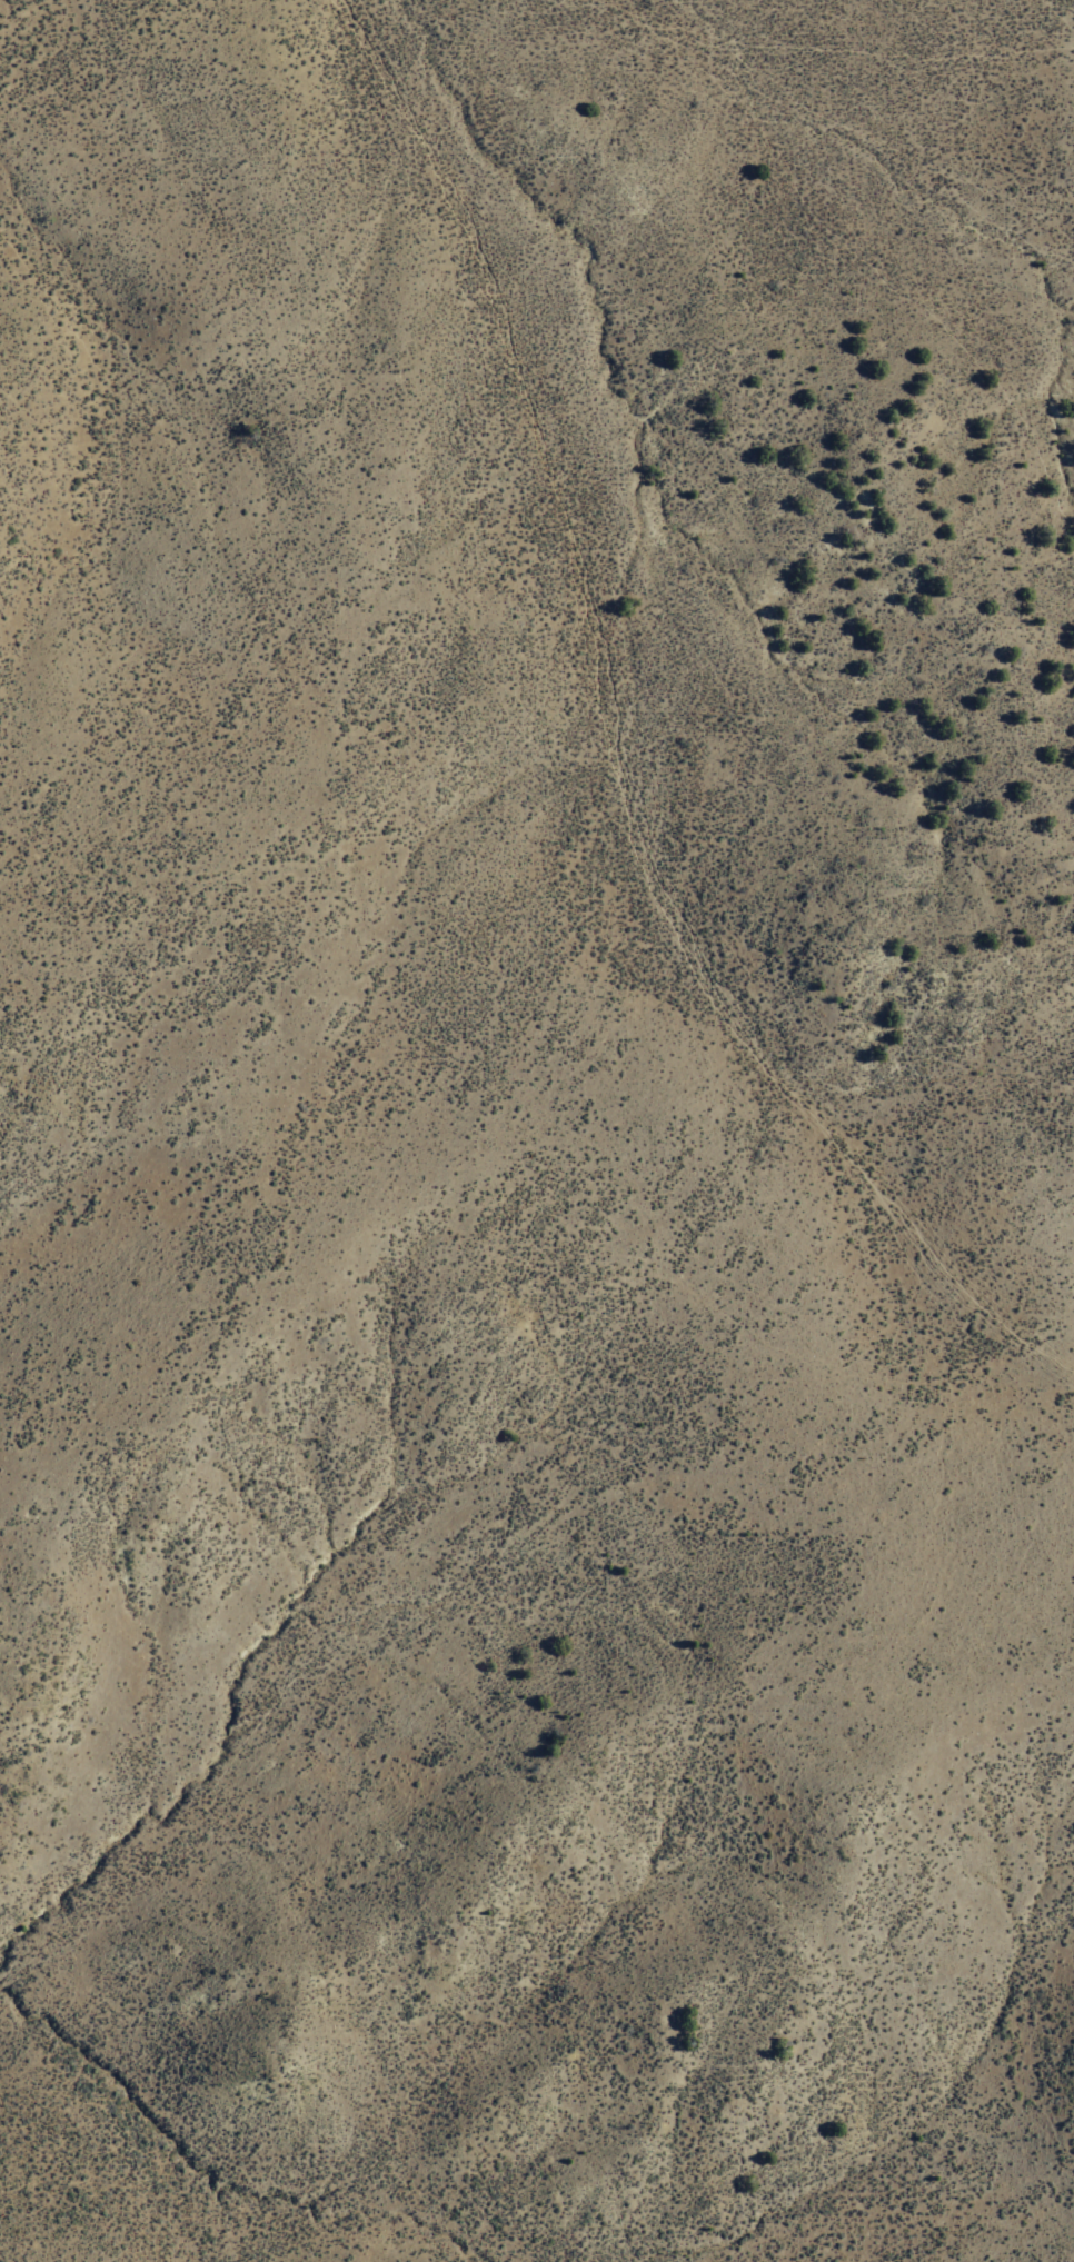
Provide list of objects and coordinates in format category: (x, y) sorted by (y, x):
crop: (11, 6)
crop: (458, 290)

